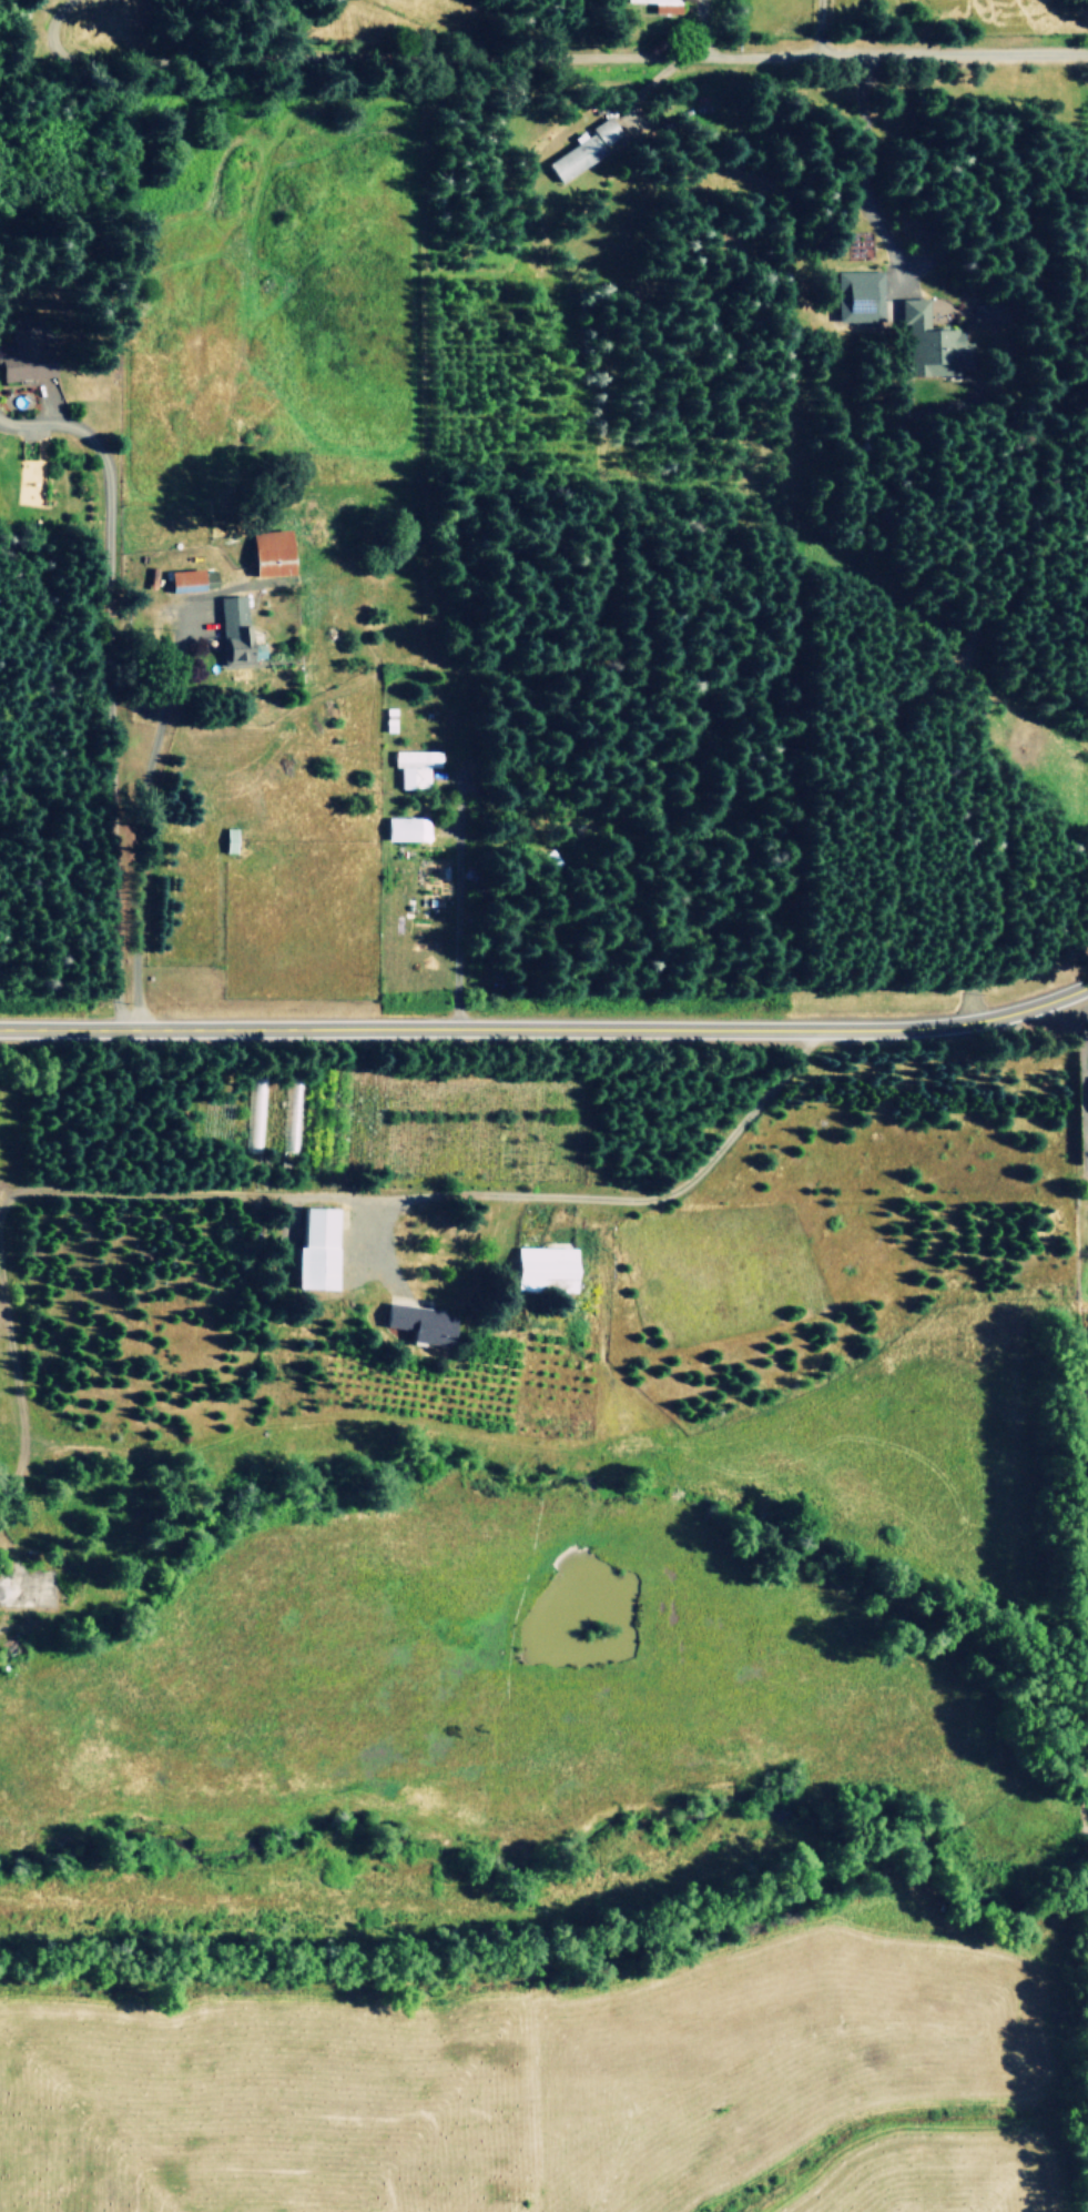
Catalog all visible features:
building: (661, 6)
road: (872, 24)
road: (810, 52)
building: (582, 150)
building: (858, 295)
building: (989, 314)
building: (934, 343)
building: (24, 354)
building: (274, 553)
building: (194, 579)
building: (235, 628)
road: (105, 685)
building: (415, 767)
building: (403, 828)
road: (1078, 1007)
road: (547, 1027)
building: (253, 1114)
road: (441, 1194)
building: (318, 1249)
building: (424, 1323)
road: (17, 1395)

